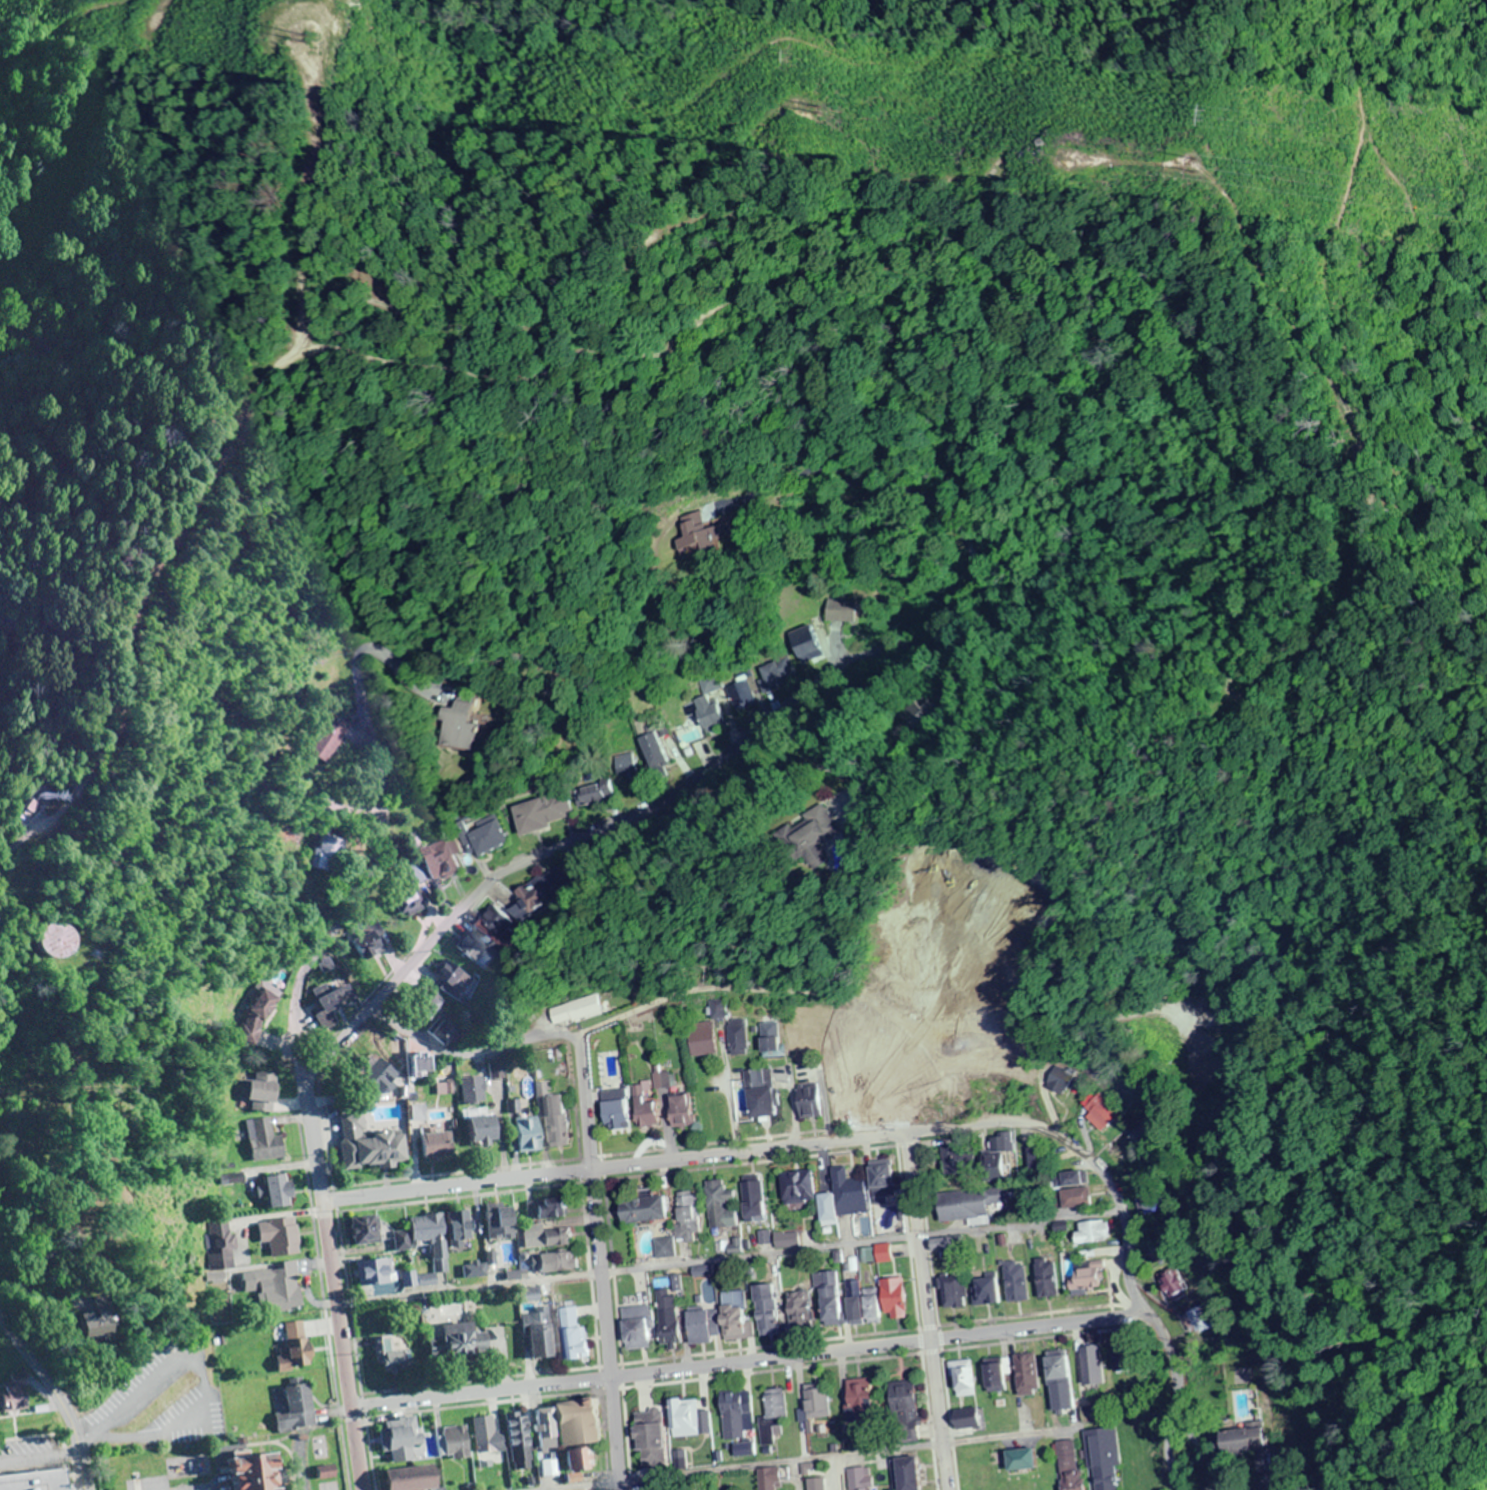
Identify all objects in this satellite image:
road: (632, 355)
building: (30, 358)
road: (834, 540)
building: (711, 541)
road: (977, 600)
building: (840, 612)
building: (809, 648)
building: (776, 674)
building: (728, 690)
building: (711, 716)
building: (469, 728)
building: (689, 734)
building: (657, 751)
building: (627, 766)
building: (596, 794)
building: (543, 813)
building: (829, 831)
building: (483, 836)
building: (327, 855)
building: (440, 861)
road: (372, 869)
building: (542, 893)
building: (412, 904)
road: (454, 917)
building: (499, 921)
building: (60, 942)
building: (372, 946)
building: (472, 946)
building: (455, 981)
road: (706, 987)
building: (338, 999)
building: (716, 1010)
building: (577, 1011)
building: (1206, 1021)
building: (443, 1031)
building: (736, 1038)
building: (769, 1038)
building: (701, 1040)
building: (800, 1040)
road: (470, 1052)
building: (951, 1060)
building: (1209, 1065)
building: (656, 1078)
building: (473, 1090)
building: (760, 1095)
building: (837, 1099)
building: (884, 1101)
building: (264, 1102)
building: (808, 1102)
building: (616, 1111)
building: (645, 1111)
building: (682, 1112)
building: (1102, 1114)
road: (574, 1116)
building: (558, 1122)
building: (486, 1130)
building: (530, 1135)
building: (1143, 1135)
road: (758, 1137)
building: (266, 1138)
road: (597, 1140)
road: (812, 1141)
road: (902, 1143)
building: (437, 1145)
building: (371, 1146)
road: (588, 1156)
building: (950, 1159)
building: (1038, 1160)
building: (993, 1161)
road: (745, 1162)
road: (332, 1169)
road: (455, 1171)
building: (234, 1176)
road: (590, 1180)
building: (1078, 1180)
road: (456, 1184)
building: (880, 1185)
building: (279, 1188)
building: (794, 1188)
road: (460, 1196)
road: (336, 1197)
building: (840, 1198)
building: (752, 1201)
building: (968, 1204)
building: (1144, 1204)
building: (718, 1207)
building: (548, 1209)
building: (647, 1212)
building: (686, 1219)
building: (502, 1221)
road: (1017, 1222)
building: (461, 1229)
building: (364, 1232)
building: (1094, 1233)
building: (282, 1234)
road: (923, 1234)
road: (904, 1236)
building: (545, 1238)
building: (400, 1240)
building: (432, 1241)
building: (221, 1244)
building: (945, 1248)
road: (755, 1252)
building: (1156, 1253)
building: (555, 1264)
road: (597, 1264)
road: (610, 1271)
building: (476, 1272)
building: (376, 1273)
road: (587, 1273)
building: (1088, 1276)
building: (1046, 1279)
building: (1012, 1283)
building: (279, 1285)
building: (1173, 1285)
road: (469, 1286)
building: (948, 1293)
building: (984, 1293)
road: (1132, 1294)
building: (893, 1300)
road: (351, 1301)
road: (328, 1305)
building: (861, 1305)
building: (831, 1306)
road: (922, 1311)
building: (765, 1312)
building: (797, 1313)
road: (1028, 1313)
building: (734, 1317)
building: (105, 1319)
building: (666, 1319)
building: (1196, 1321)
road: (924, 1325)
building: (700, 1327)
building: (637, 1329)
road: (1040, 1336)
building: (572, 1337)
road: (936, 1337)
road: (915, 1339)
building: (542, 1342)
building: (297, 1345)
building: (499, 1345)
road: (765, 1345)
building: (462, 1347)
road: (927, 1350)
building: (395, 1356)
road: (749, 1359)
building: (1125, 1359)
road: (606, 1364)
building: (1091, 1367)
road: (768, 1369)
building: (1058, 1371)
road: (619, 1375)
road: (596, 1376)
building: (1025, 1376)
building: (990, 1377)
road: (482, 1378)
building: (960, 1380)
road: (608, 1388)
building: (18, 1394)
road: (59, 1394)
building: (902, 1401)
road: (481, 1402)
building: (814, 1402)
road: (367, 1405)
building: (861, 1405)
building: (300, 1406)
building: (1092, 1415)
building: (735, 1416)
building: (683, 1417)
building: (771, 1417)
road: (924, 1417)
road: (945, 1417)
building: (968, 1420)
building: (582, 1425)
building: (522, 1434)
road: (623, 1435)
building: (490, 1436)
road: (602, 1436)
building: (651, 1439)
building: (404, 1440)
building: (1249, 1442)
building: (550, 1443)
building: (460, 1444)
road: (372, 1451)
building: (1100, 1455)
road: (820, 1456)
building: (1020, 1457)
building: (582, 1462)
building: (1067, 1465)
building: (806, 1466)
road: (94, 1468)
building: (329, 1470)
building: (257, 1472)
building: (906, 1473)
building: (769, 1477)
building: (859, 1477)
building: (416, 1479)
building: (38, 1480)
building: (816, 1483)
building: (586, 1489)

